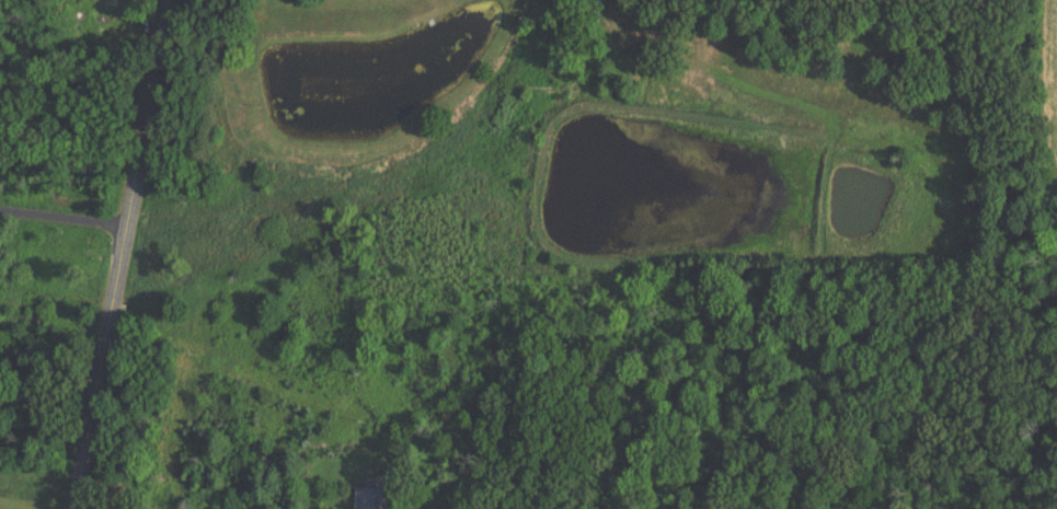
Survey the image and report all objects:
road: (66, 217)
road: (128, 254)
building: (375, 497)

